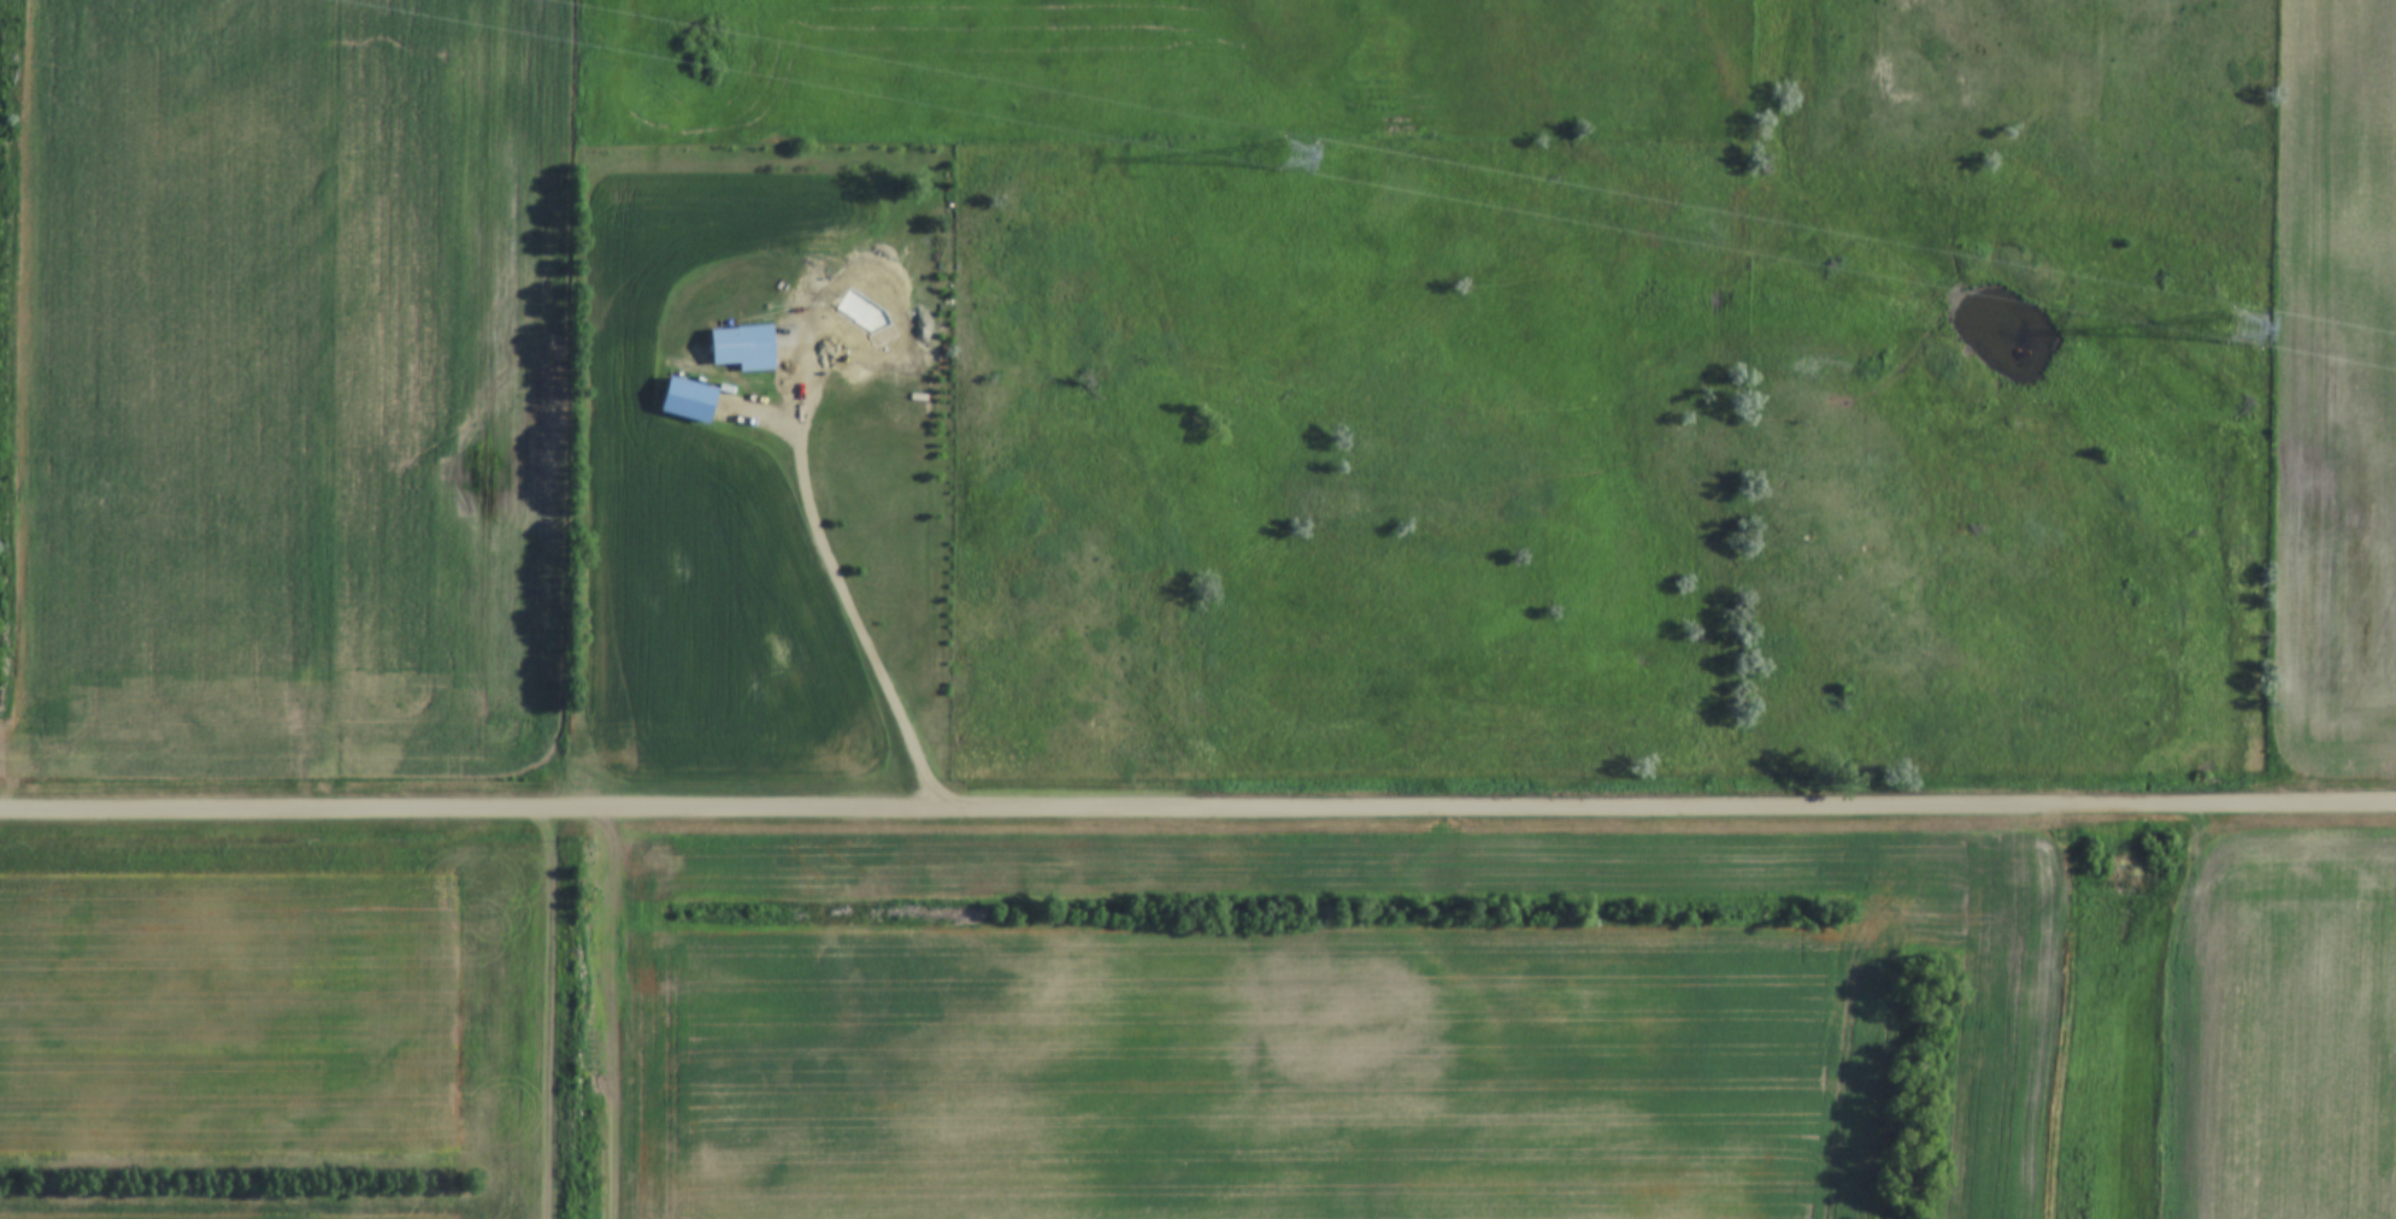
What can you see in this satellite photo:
power tower: (1295, 147)
building: (932, 242)
power tower: (2248, 324)
building: (744, 346)
road: (834, 561)
road: (1197, 808)

